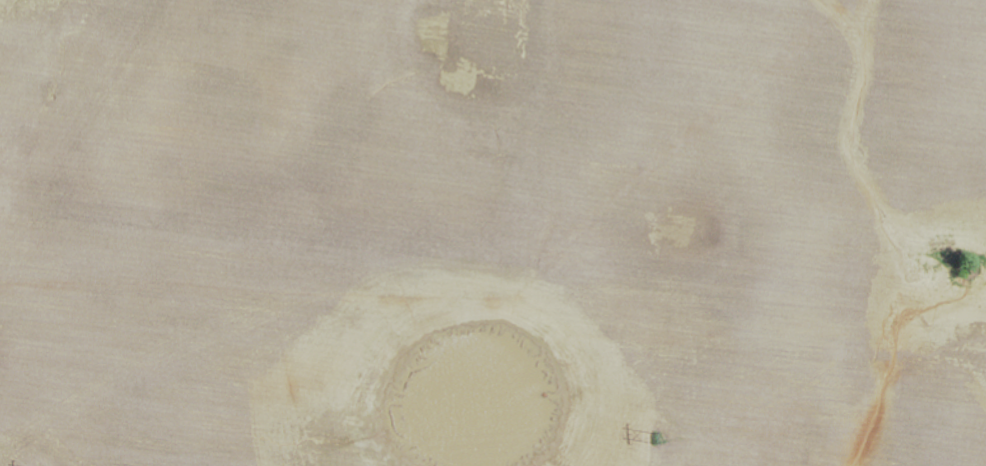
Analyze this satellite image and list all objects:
power tower: (667, 440)

